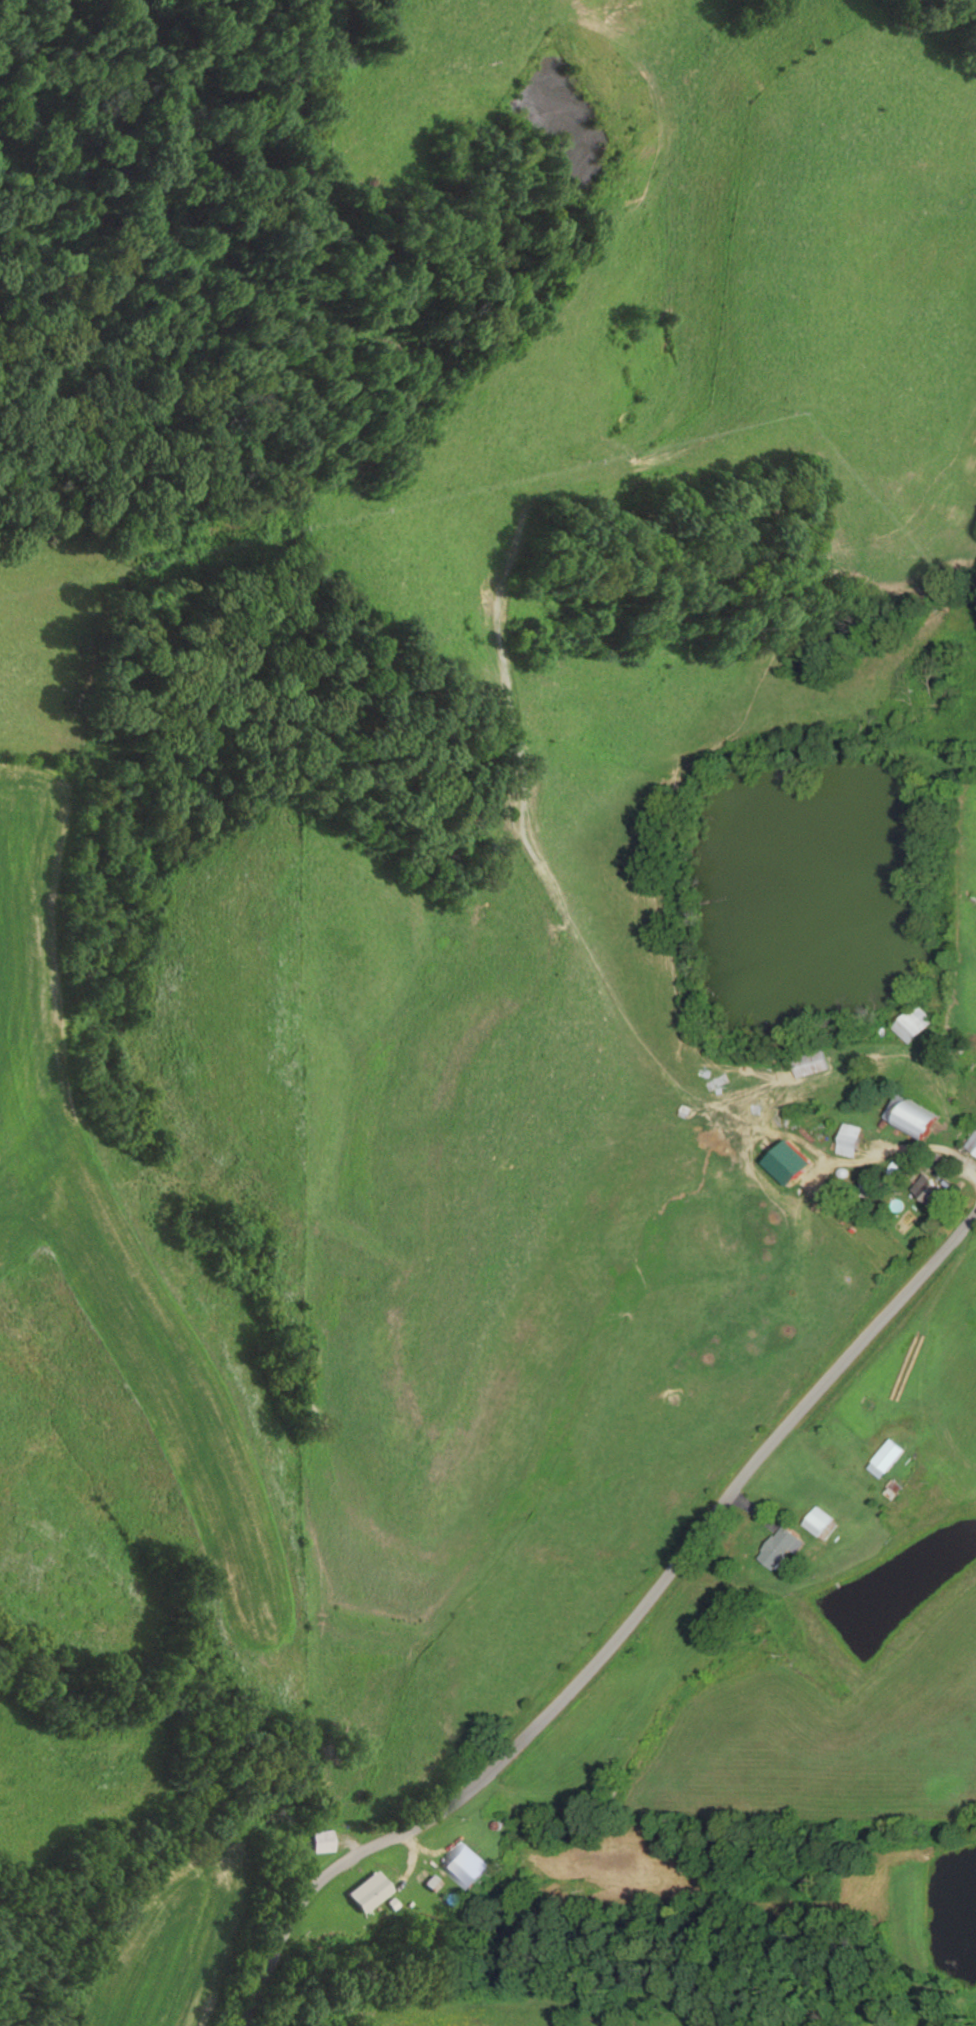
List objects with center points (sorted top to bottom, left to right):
road: (644, 628)
building: (909, 1023)
building: (807, 1064)
building: (908, 1116)
building: (847, 1140)
building: (971, 1145)
building: (787, 1163)
building: (926, 1192)
building: (883, 1459)
building: (818, 1523)
building: (776, 1548)
road: (633, 1607)
building: (318, 1840)
building: (463, 1863)
building: (368, 1895)

